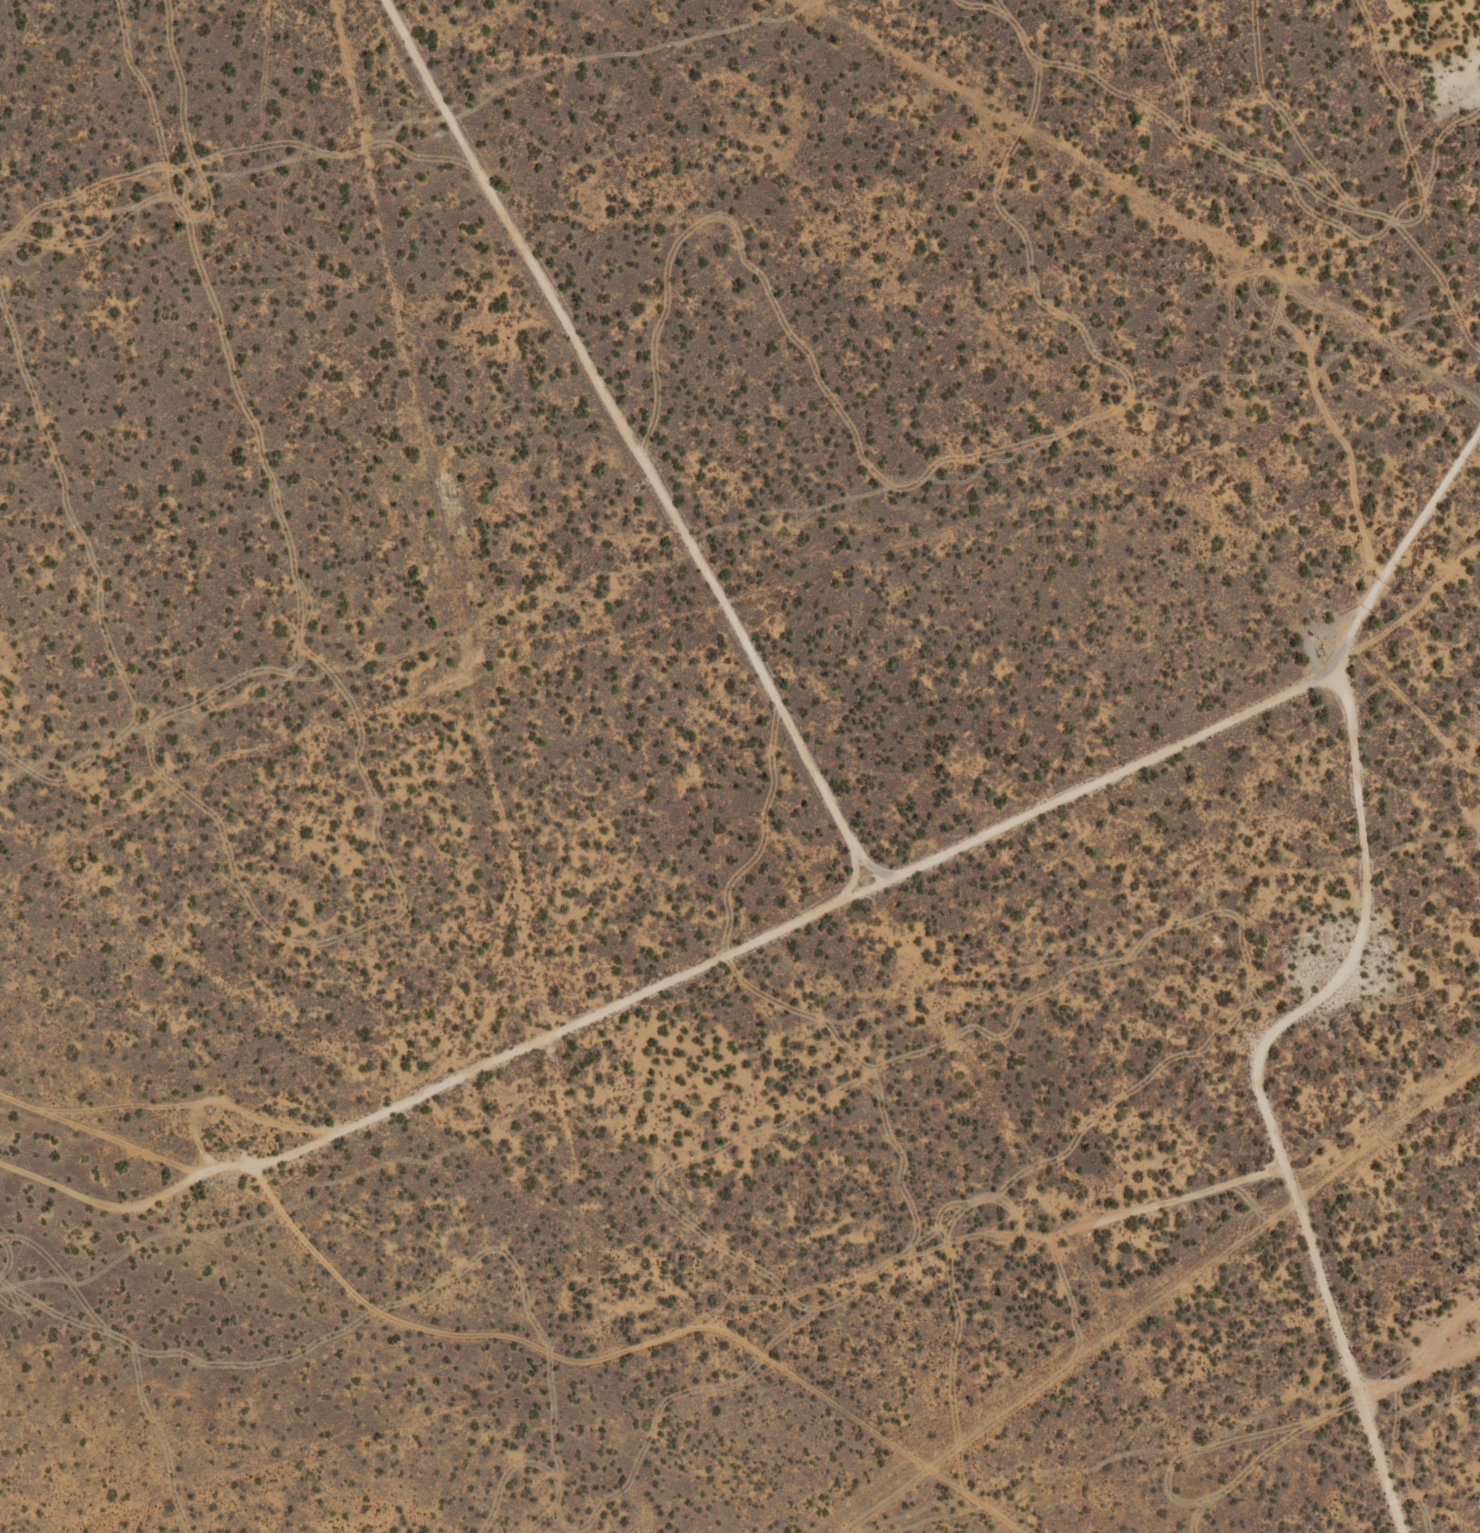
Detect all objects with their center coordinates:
road: (596, 443)
road: (1083, 777)
road: (1366, 1123)

